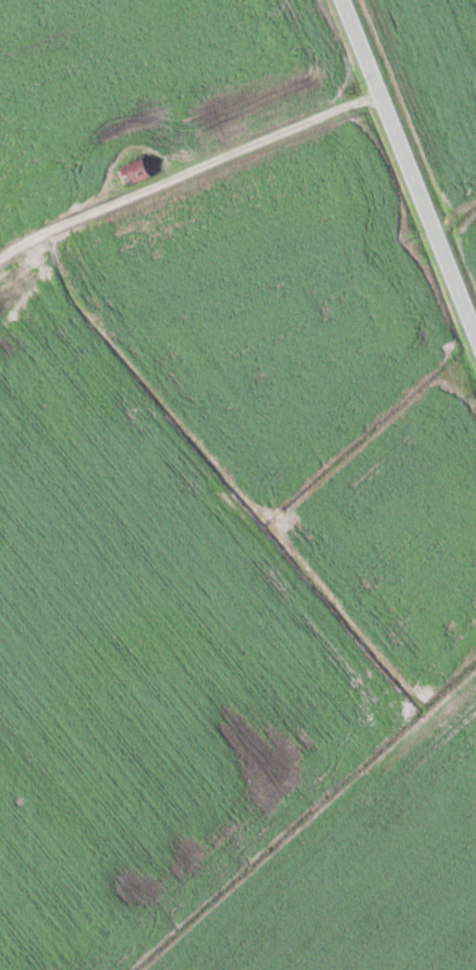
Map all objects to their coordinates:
road: (418, 145)
building: (138, 173)
building: (27, 280)
power tower: (456, 428)

